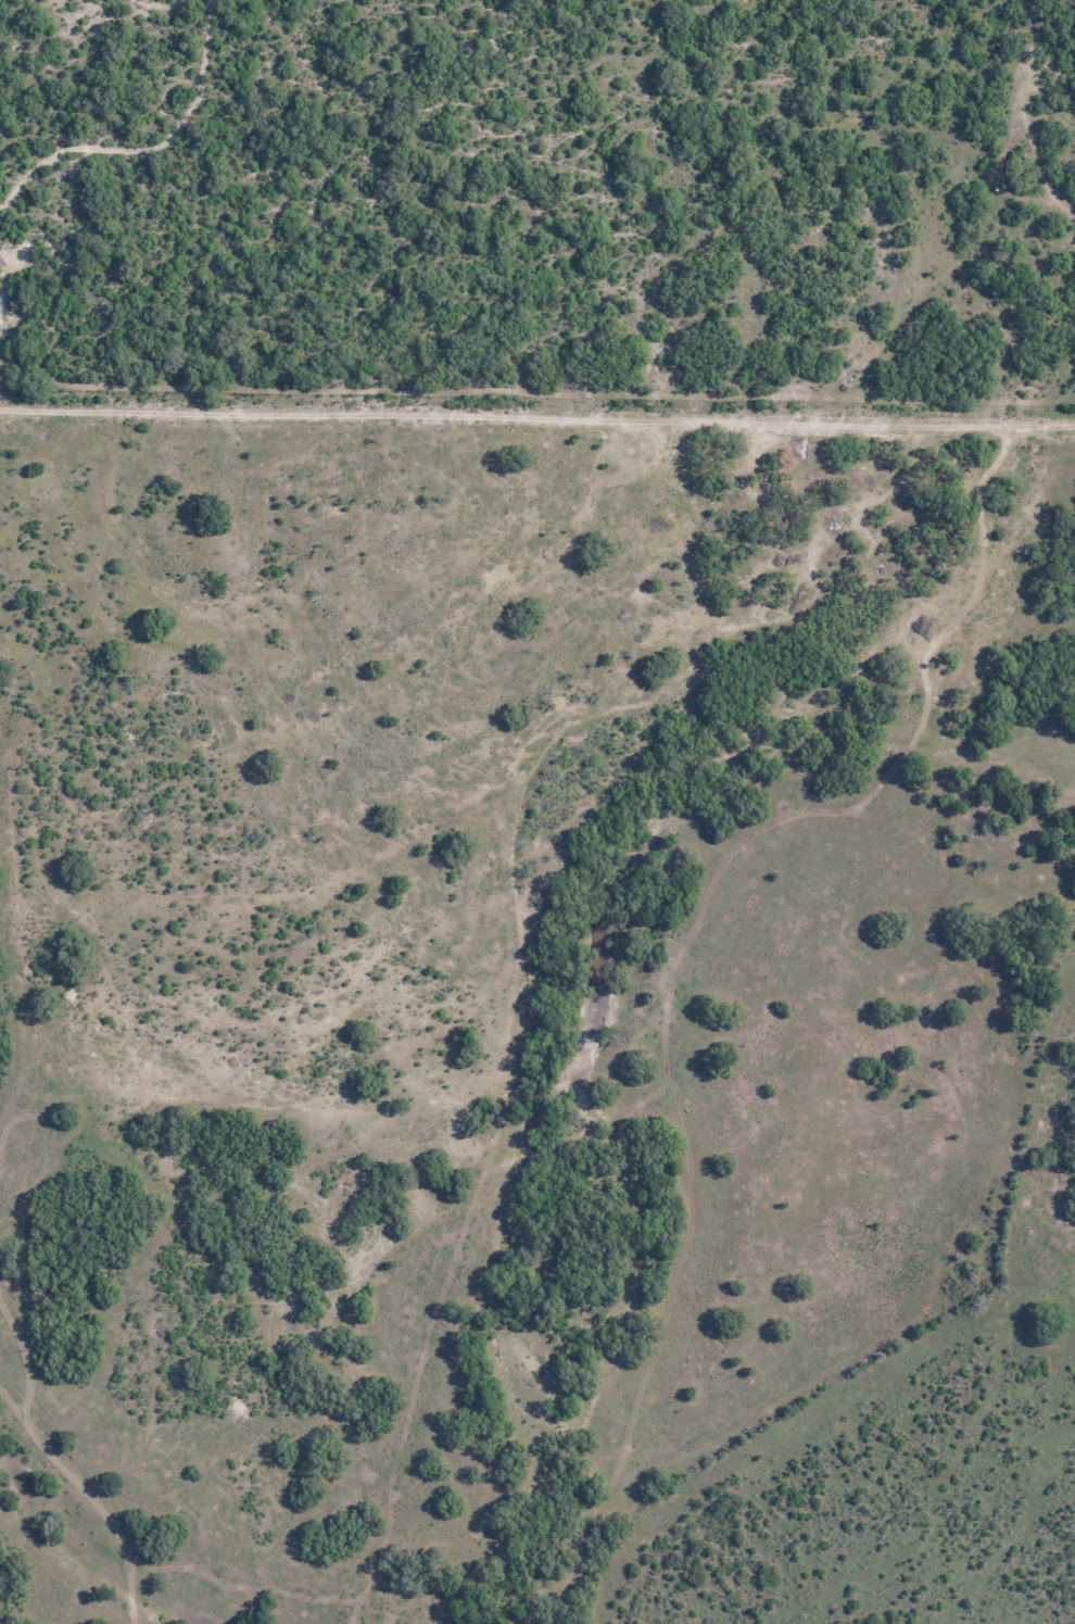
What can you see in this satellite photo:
road: (537, 437)

